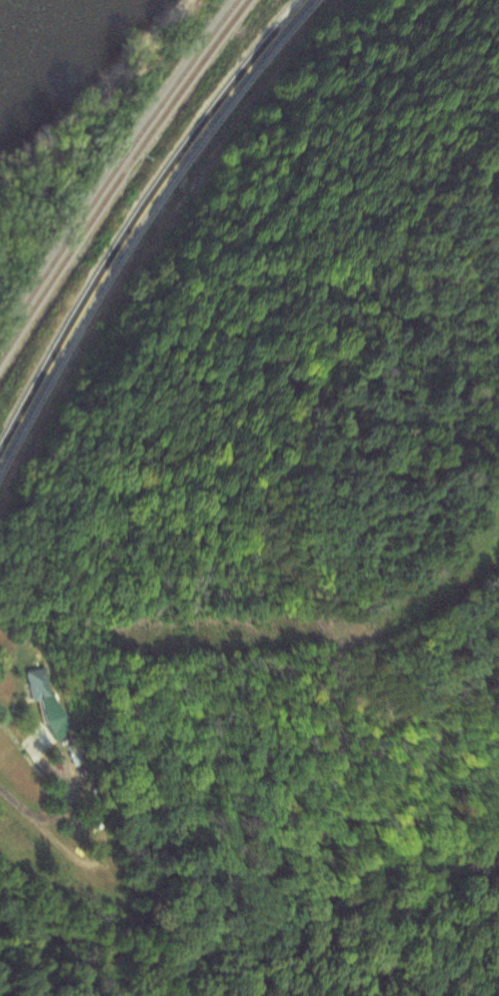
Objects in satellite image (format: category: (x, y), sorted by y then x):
railway: (114, 169)
railway: (121, 180)
road: (141, 225)
building: (39, 683)
building: (62, 724)
road: (97, 858)

